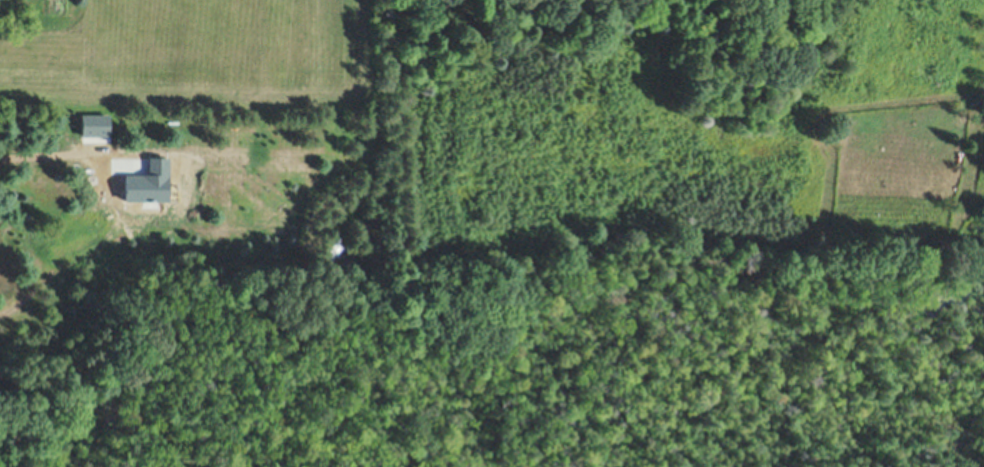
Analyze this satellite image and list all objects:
building: (329, 249)

